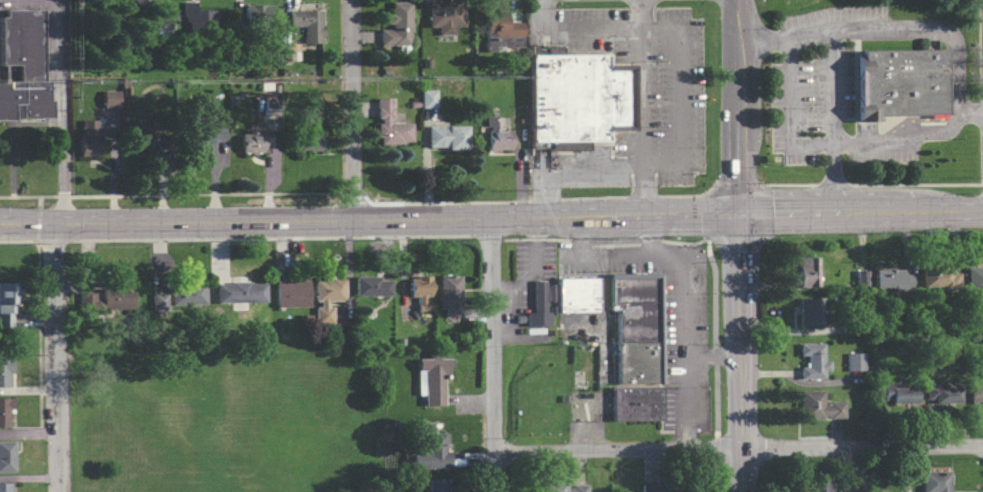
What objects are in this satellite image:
building: (138, 2)
parking lot: (31, 4)
building: (445, 16)
parking lot: (832, 16)
building: (197, 19)
building: (251, 21)
building: (307, 24)
building: (398, 27)
road: (576, 29)
road: (881, 29)
building: (501, 31)
road: (737, 55)
building: (23, 64)
parking lot: (652, 81)
building: (898, 82)
road: (979, 92)
road: (681, 93)
building: (108, 98)
building: (424, 98)
building: (576, 98)
road: (642, 107)
road: (351, 109)
road: (65, 112)
parking lot: (822, 112)
road: (829, 122)
building: (390, 125)
building: (309, 131)
building: (203, 134)
building: (496, 135)
building: (447, 136)
road: (912, 137)
building: (88, 138)
building: (149, 138)
building: (253, 141)
road: (738, 162)
road: (570, 168)
road: (491, 201)
road: (37, 202)
road: (951, 210)
road: (880, 212)
road: (789, 213)
road: (675, 215)
road: (305, 220)
road: (34, 224)
road: (408, 236)
road: (344, 237)
road: (483, 237)
road: (204, 238)
road: (533, 238)
road: (50, 241)
road: (16, 242)
road: (648, 242)
road: (683, 242)
road: (577, 243)
road: (612, 244)
road: (740, 255)
parking lot: (535, 260)
road: (533, 267)
building: (807, 271)
building: (857, 279)
building: (893, 279)
building: (941, 279)
building: (974, 279)
building: (372, 285)
building: (634, 289)
building: (420, 291)
building: (240, 292)
building: (292, 293)
building: (577, 294)
building: (449, 295)
building: (178, 297)
building: (106, 298)
building: (327, 298)
building: (8, 303)
building: (540, 303)
building: (809, 310)
road: (681, 319)
parking lot: (666, 320)
building: (638, 323)
road: (715, 341)
building: (396, 344)
road: (38, 346)
road: (491, 354)
road: (712, 355)
road: (53, 357)
building: (813, 361)
building: (638, 362)
building: (855, 362)
building: (5, 373)
building: (430, 381)
building: (976, 393)
road: (742, 394)
building: (899, 395)
building: (942, 395)
building: (636, 403)
building: (817, 405)
building: (5, 412)
park: (224, 423)
road: (737, 447)
building: (431, 452)
building: (6, 456)
building: (935, 483)
building: (438, 485)
building: (816, 485)
building: (563, 486)
building: (6, 487)
building: (662, 488)

